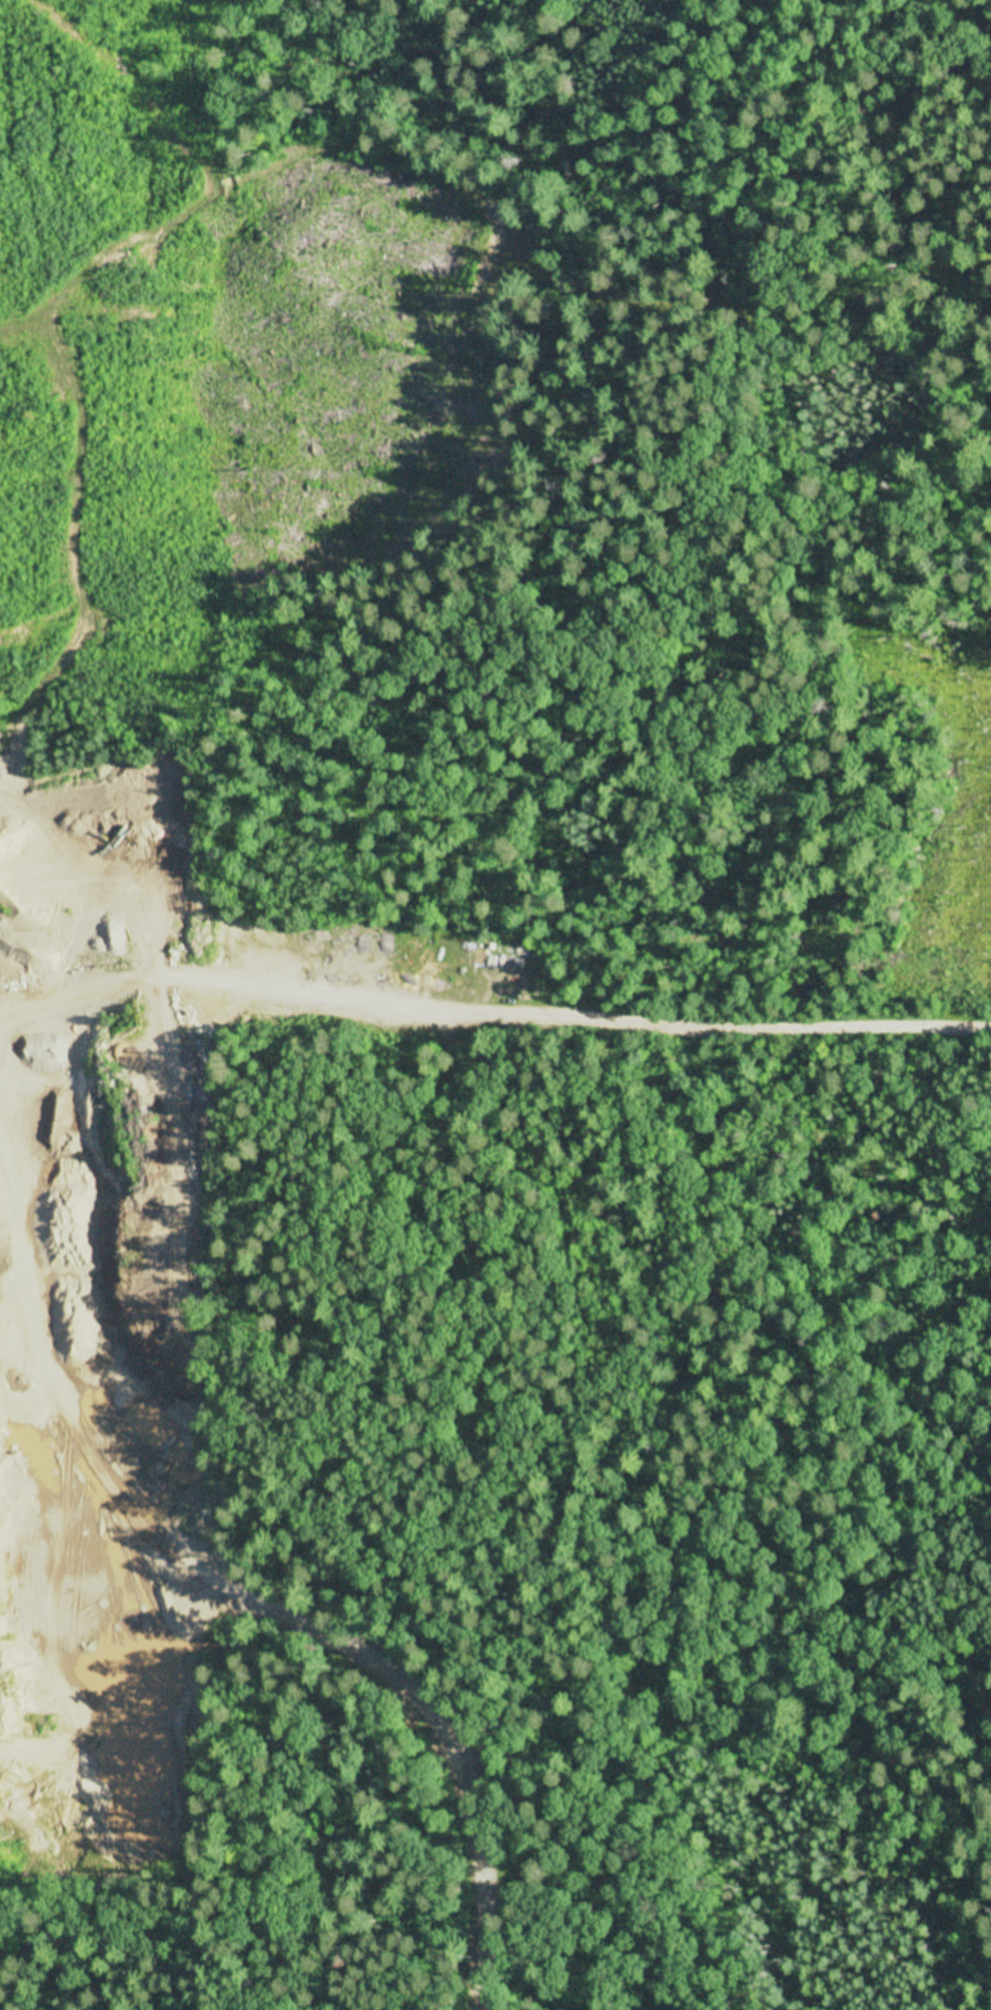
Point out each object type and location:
road: (492, 1015)
road: (250, 1592)

